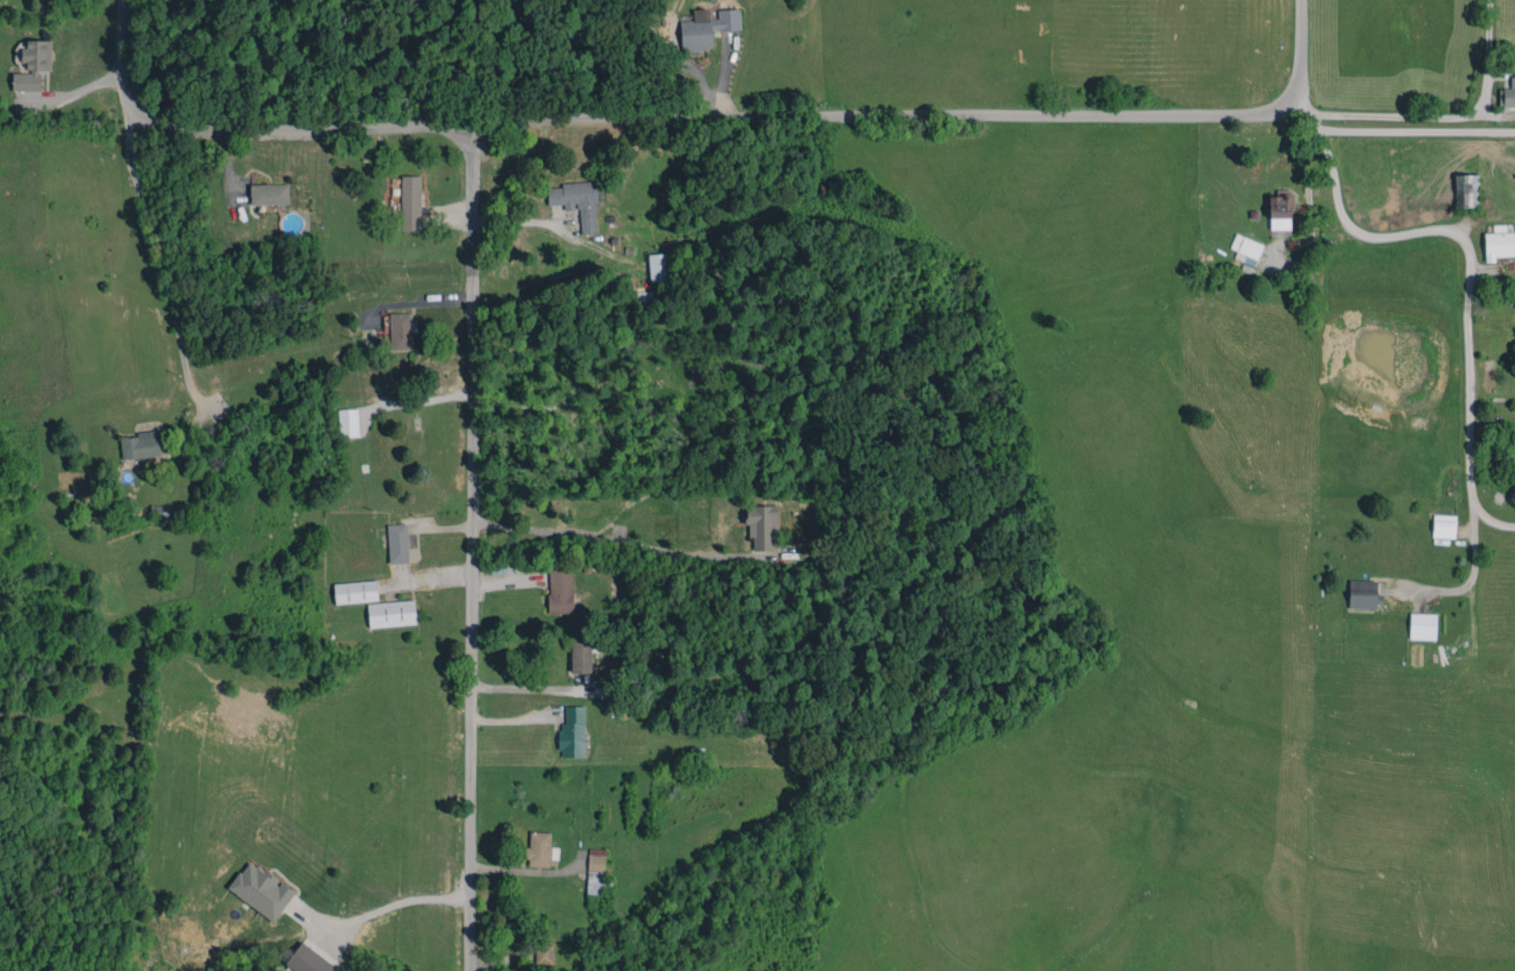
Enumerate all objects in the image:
building: (706, 28)
road: (1501, 55)
building: (33, 65)
road: (76, 92)
building: (1507, 94)
road: (933, 114)
road: (1437, 114)
road: (245, 129)
road: (1393, 129)
building: (1466, 190)
building: (269, 193)
building: (410, 202)
building: (577, 202)
building: (1281, 210)
road: (539, 223)
building: (1498, 245)
building: (1246, 249)
road: (160, 256)
building: (658, 266)
building: (1514, 300)
road: (415, 305)
road: (1466, 320)
building: (400, 330)
building: (348, 422)
building: (140, 445)
road: (1491, 522)
building: (761, 525)
building: (1443, 526)
road: (608, 539)
building: (397, 543)
road: (473, 549)
building: (560, 590)
building: (355, 591)
building: (1363, 594)
building: (391, 613)
building: (1422, 626)
building: (581, 656)
road: (534, 691)
building: (572, 731)
building: (540, 849)
building: (595, 871)
building: (261, 890)
road: (381, 911)
building: (543, 954)
building: (307, 960)

